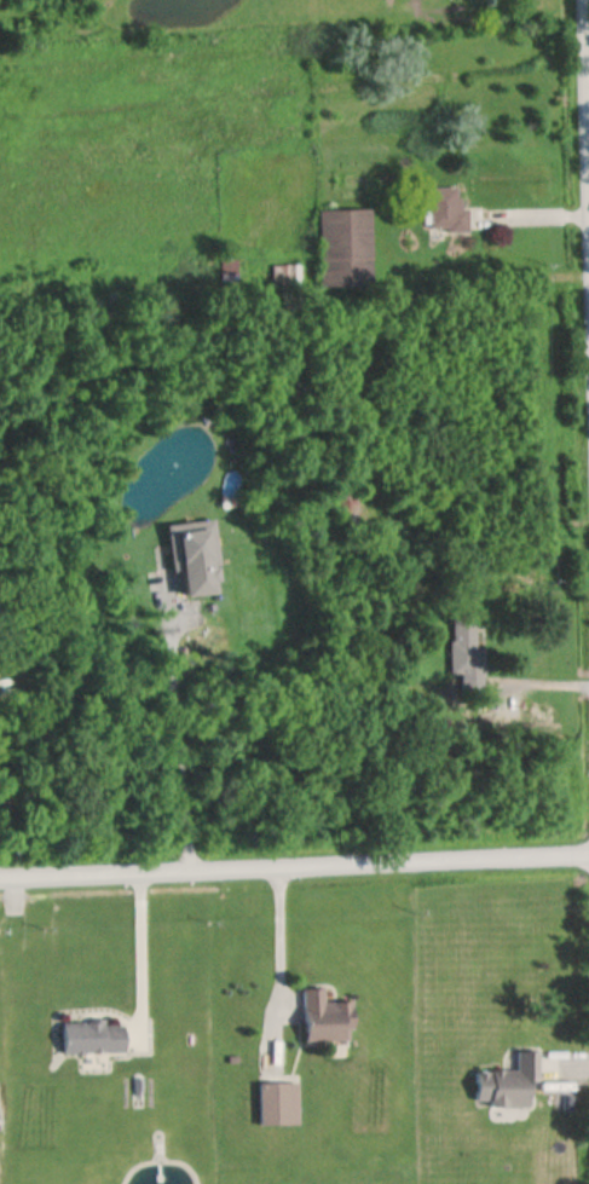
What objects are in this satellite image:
road: (530, 209)
building: (444, 210)
building: (342, 248)
road: (584, 249)
building: (282, 276)
building: (342, 501)
building: (192, 560)
building: (464, 649)
road: (179, 751)
road: (294, 872)
road: (278, 937)
road: (139, 949)
building: (323, 1017)
building: (91, 1038)
building: (507, 1081)

